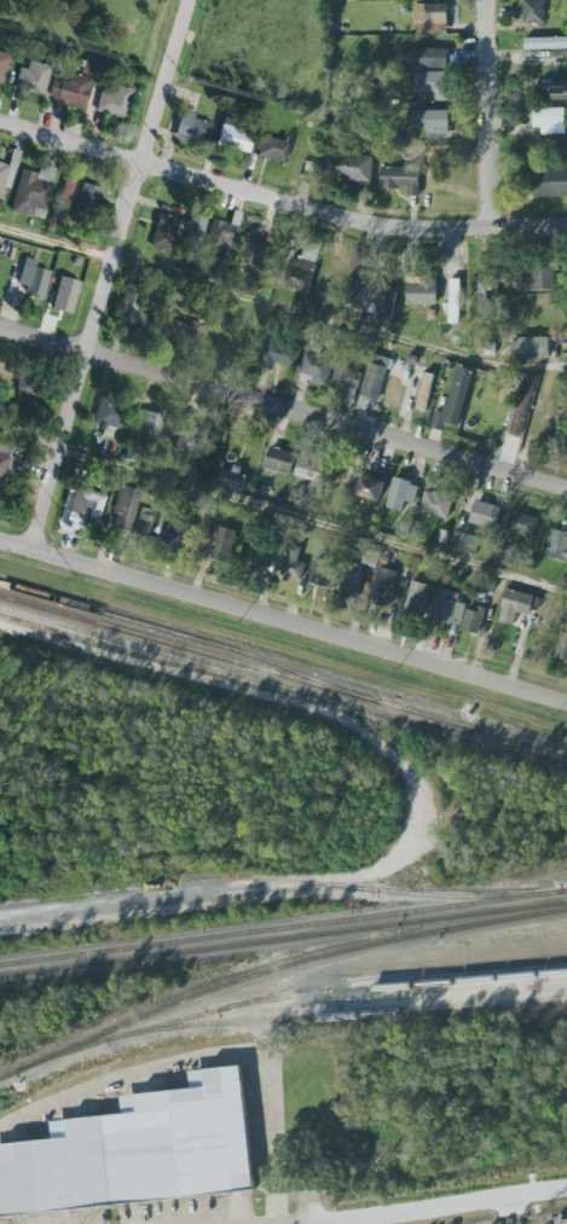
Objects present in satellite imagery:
building: (534, 13)
building: (433, 14)
building: (546, 43)
building: (423, 58)
building: (4, 66)
building: (33, 79)
road: (163, 81)
building: (436, 85)
building: (76, 86)
building: (560, 94)
building: (115, 103)
road: (487, 114)
building: (436, 121)
building: (550, 121)
building: (195, 128)
building: (440, 135)
building: (232, 138)
building: (276, 150)
building: (349, 169)
building: (5, 178)
building: (401, 178)
building: (549, 181)
building: (33, 190)
building: (68, 190)
building: (88, 198)
road: (279, 201)
building: (196, 230)
building: (164, 232)
building: (220, 236)
building: (251, 251)
building: (300, 274)
building: (33, 278)
building: (540, 279)
building: (424, 290)
building: (68, 295)
building: (370, 296)
building: (484, 300)
building: (456, 301)
road: (282, 306)
building: (135, 315)
building: (179, 331)
building: (532, 348)
building: (280, 355)
road: (86, 356)
building: (317, 370)
building: (346, 382)
building: (380, 384)
building: (27, 391)
building: (426, 391)
building: (455, 400)
road: (283, 408)
building: (111, 414)
building: (517, 414)
building: (149, 422)
building: (193, 439)
building: (6, 460)
building: (279, 460)
building: (311, 468)
building: (232, 477)
building: (371, 488)
building: (403, 492)
building: (297, 497)
building: (88, 501)
building: (436, 503)
building: (125, 509)
road: (283, 514)
building: (486, 515)
building: (145, 522)
building: (516, 533)
building: (172, 536)
building: (220, 543)
building: (465, 543)
building: (557, 545)
building: (259, 556)
building: (294, 562)
building: (324, 574)
building: (352, 584)
building: (384, 586)
building: (485, 587)
building: (418, 593)
building: (511, 605)
building: (451, 608)
building: (474, 619)
road: (283, 622)
railway: (172, 633)
building: (562, 646)
railway: (283, 674)
railway: (247, 678)
railway: (279, 881)
railway: (185, 904)
railway: (283, 929)
railway: (283, 939)
railway: (276, 968)
railway: (393, 986)
railway: (297, 991)
railway: (348, 1016)
road: (213, 1055)
building: (137, 1152)
road: (428, 1207)
road: (312, 1223)

